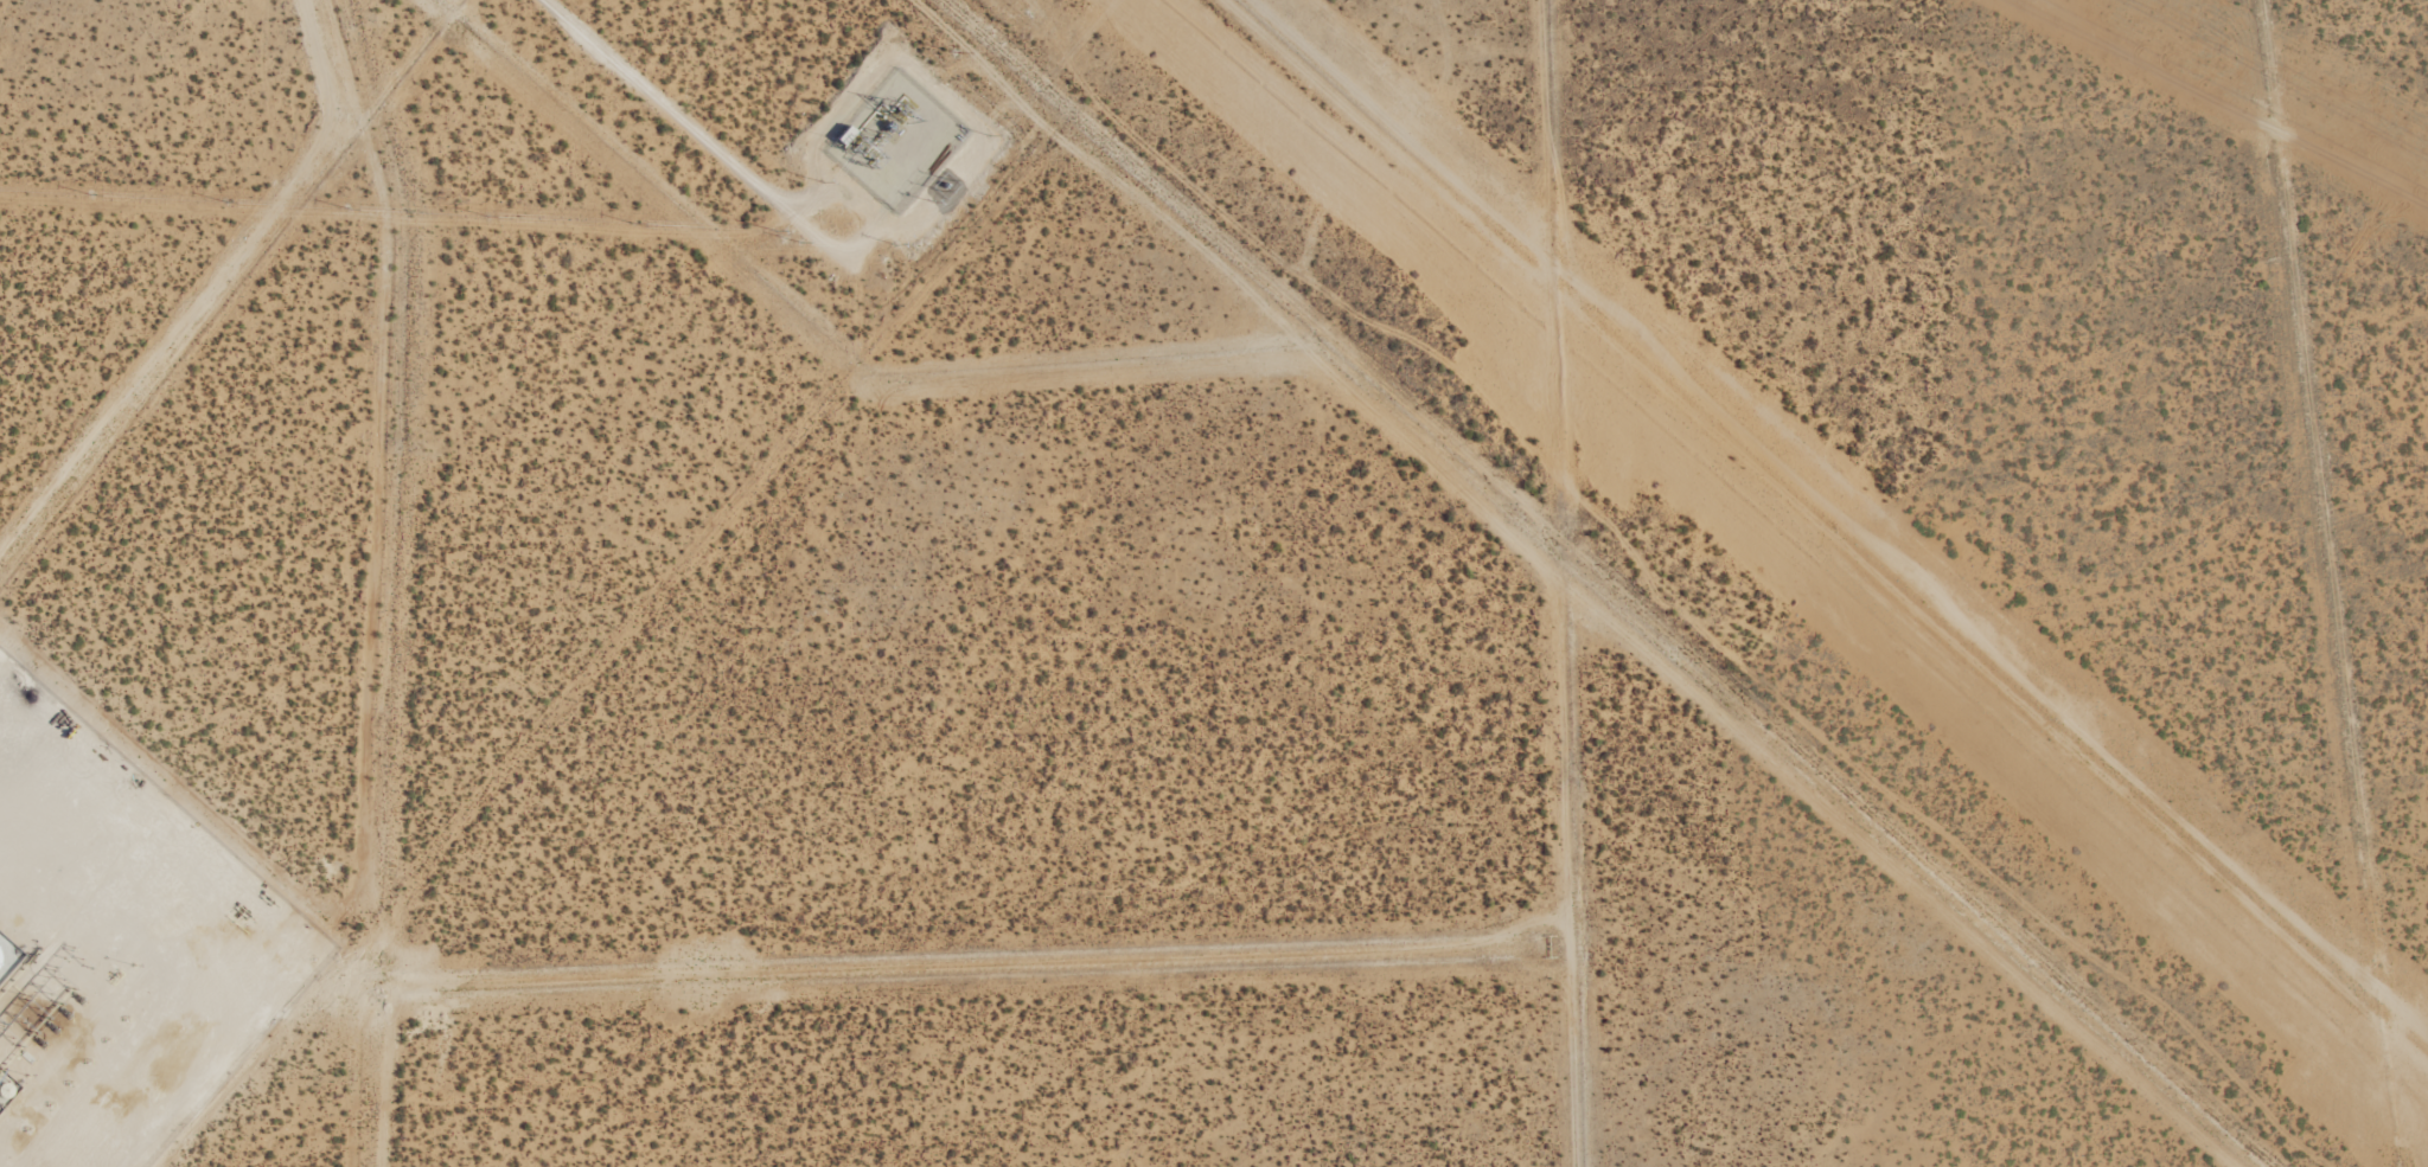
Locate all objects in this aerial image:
power tower: (954, 52)
power substation: (895, 137)

